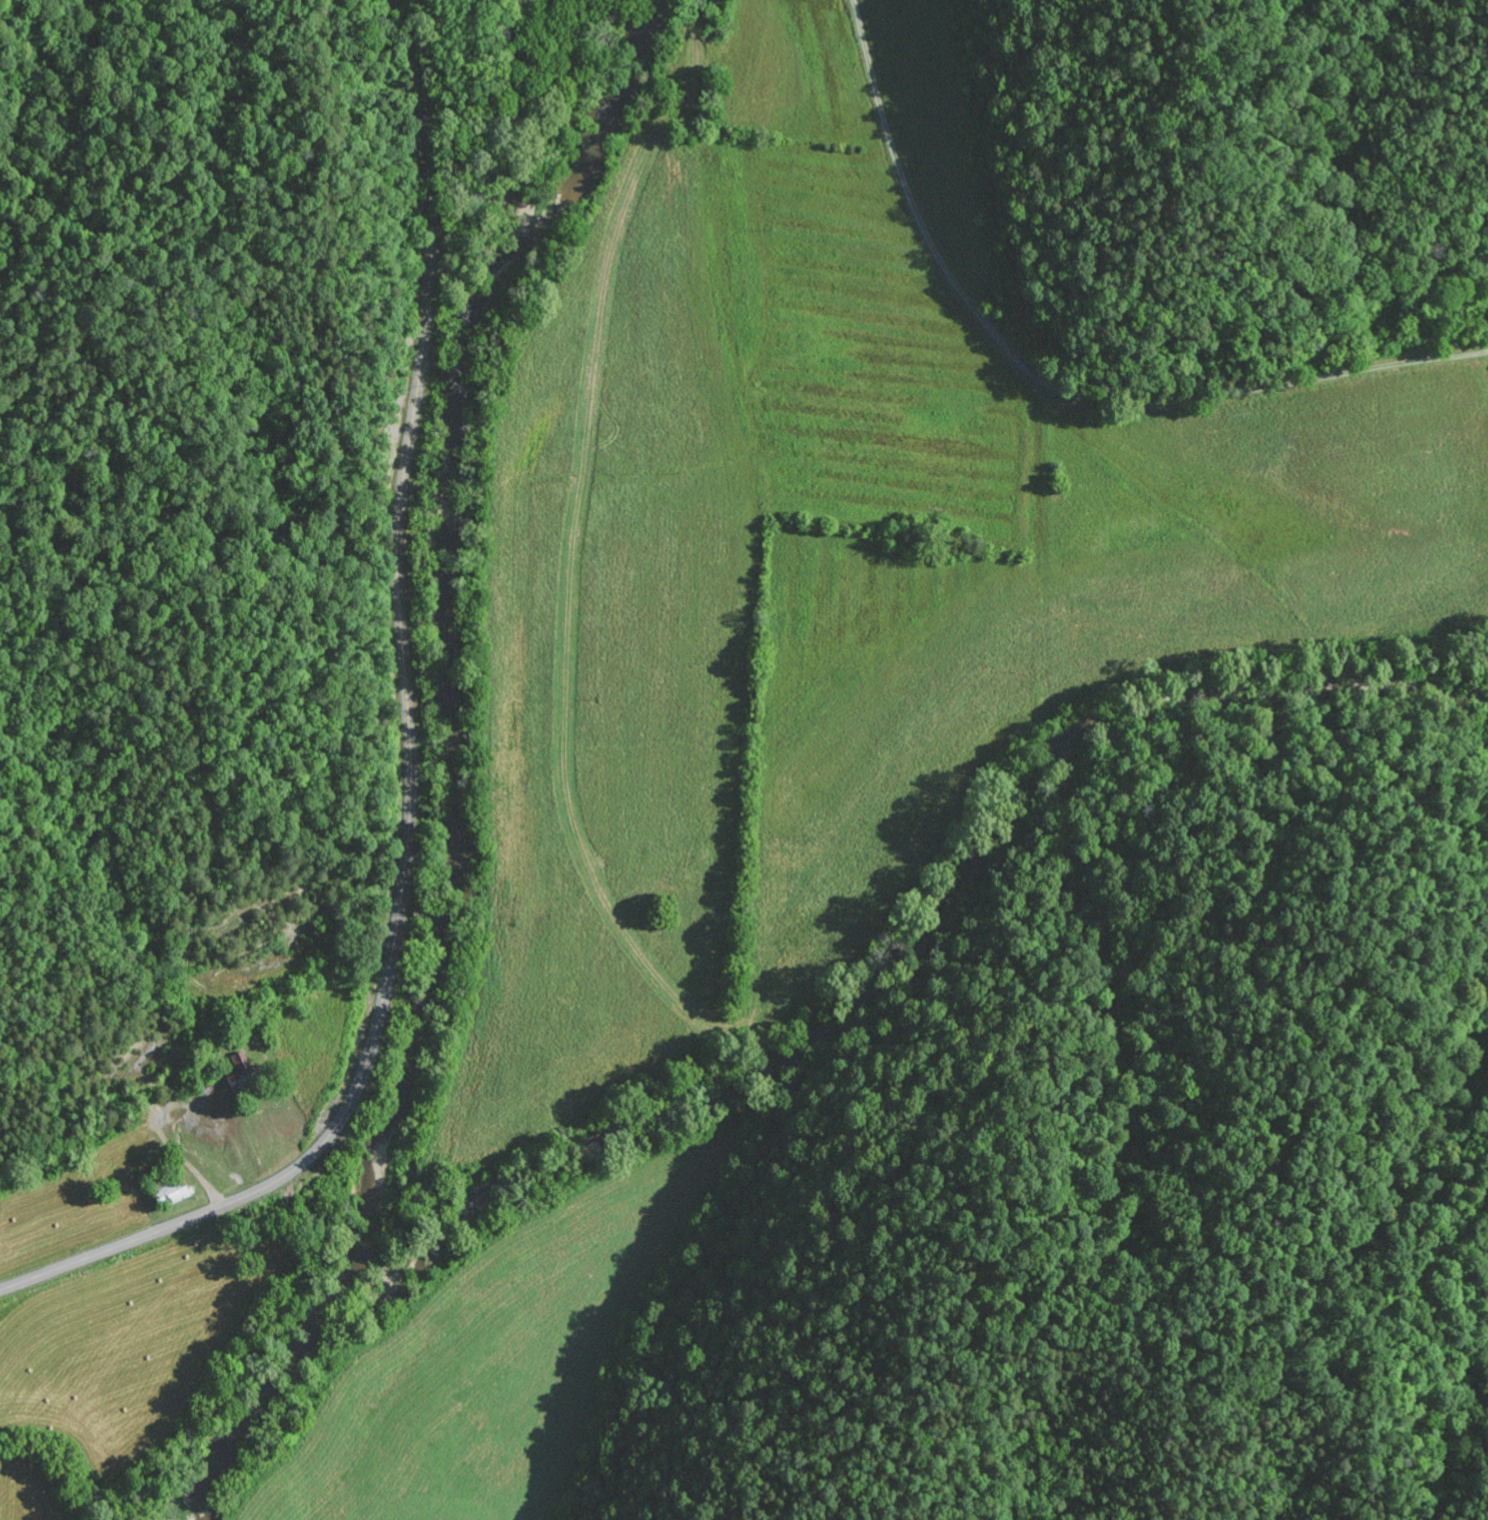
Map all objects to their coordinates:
road: (418, 331)
road: (1053, 387)
road: (1267, 650)
road: (360, 1084)
building: (232, 1085)
building: (178, 1196)

